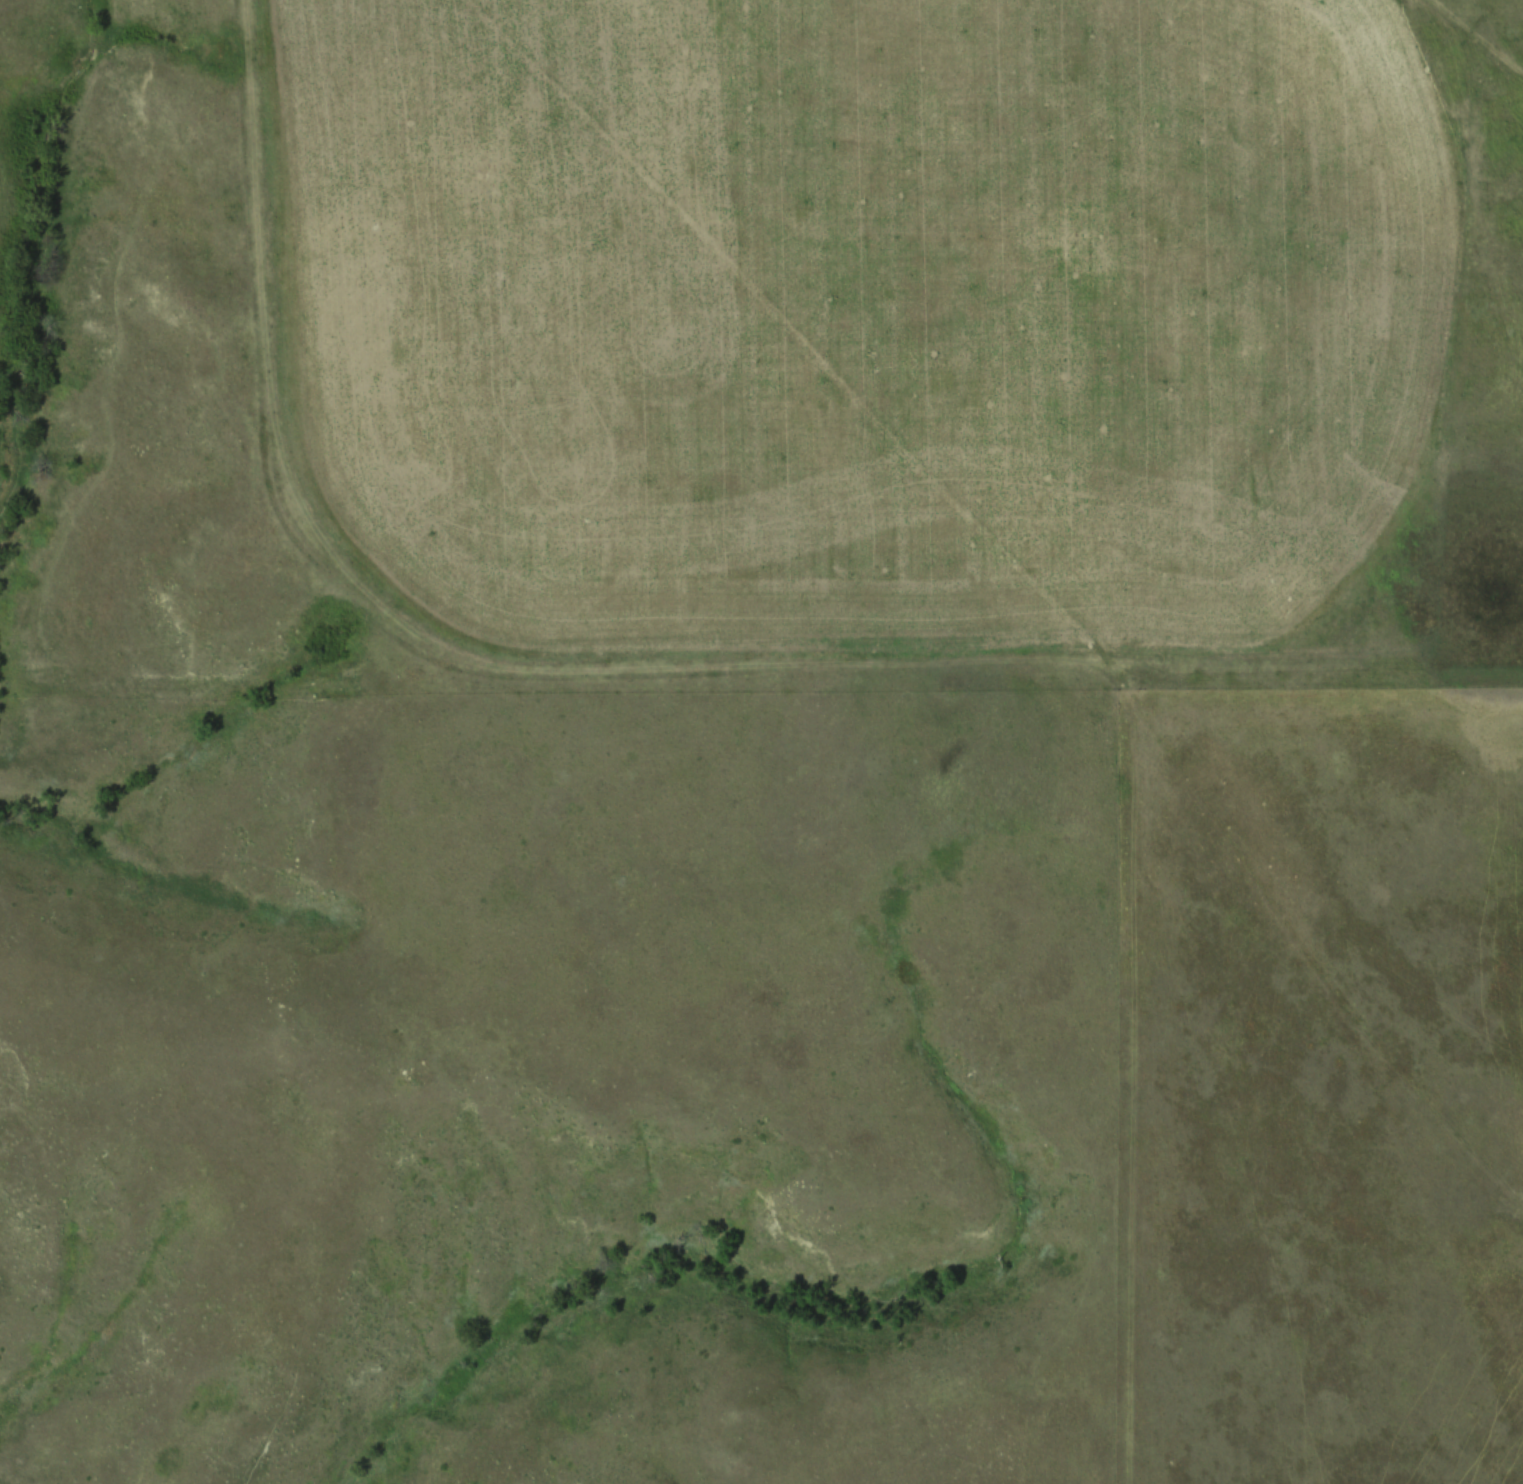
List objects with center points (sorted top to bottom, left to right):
road: (1486, 30)
crop: (866, 316)

